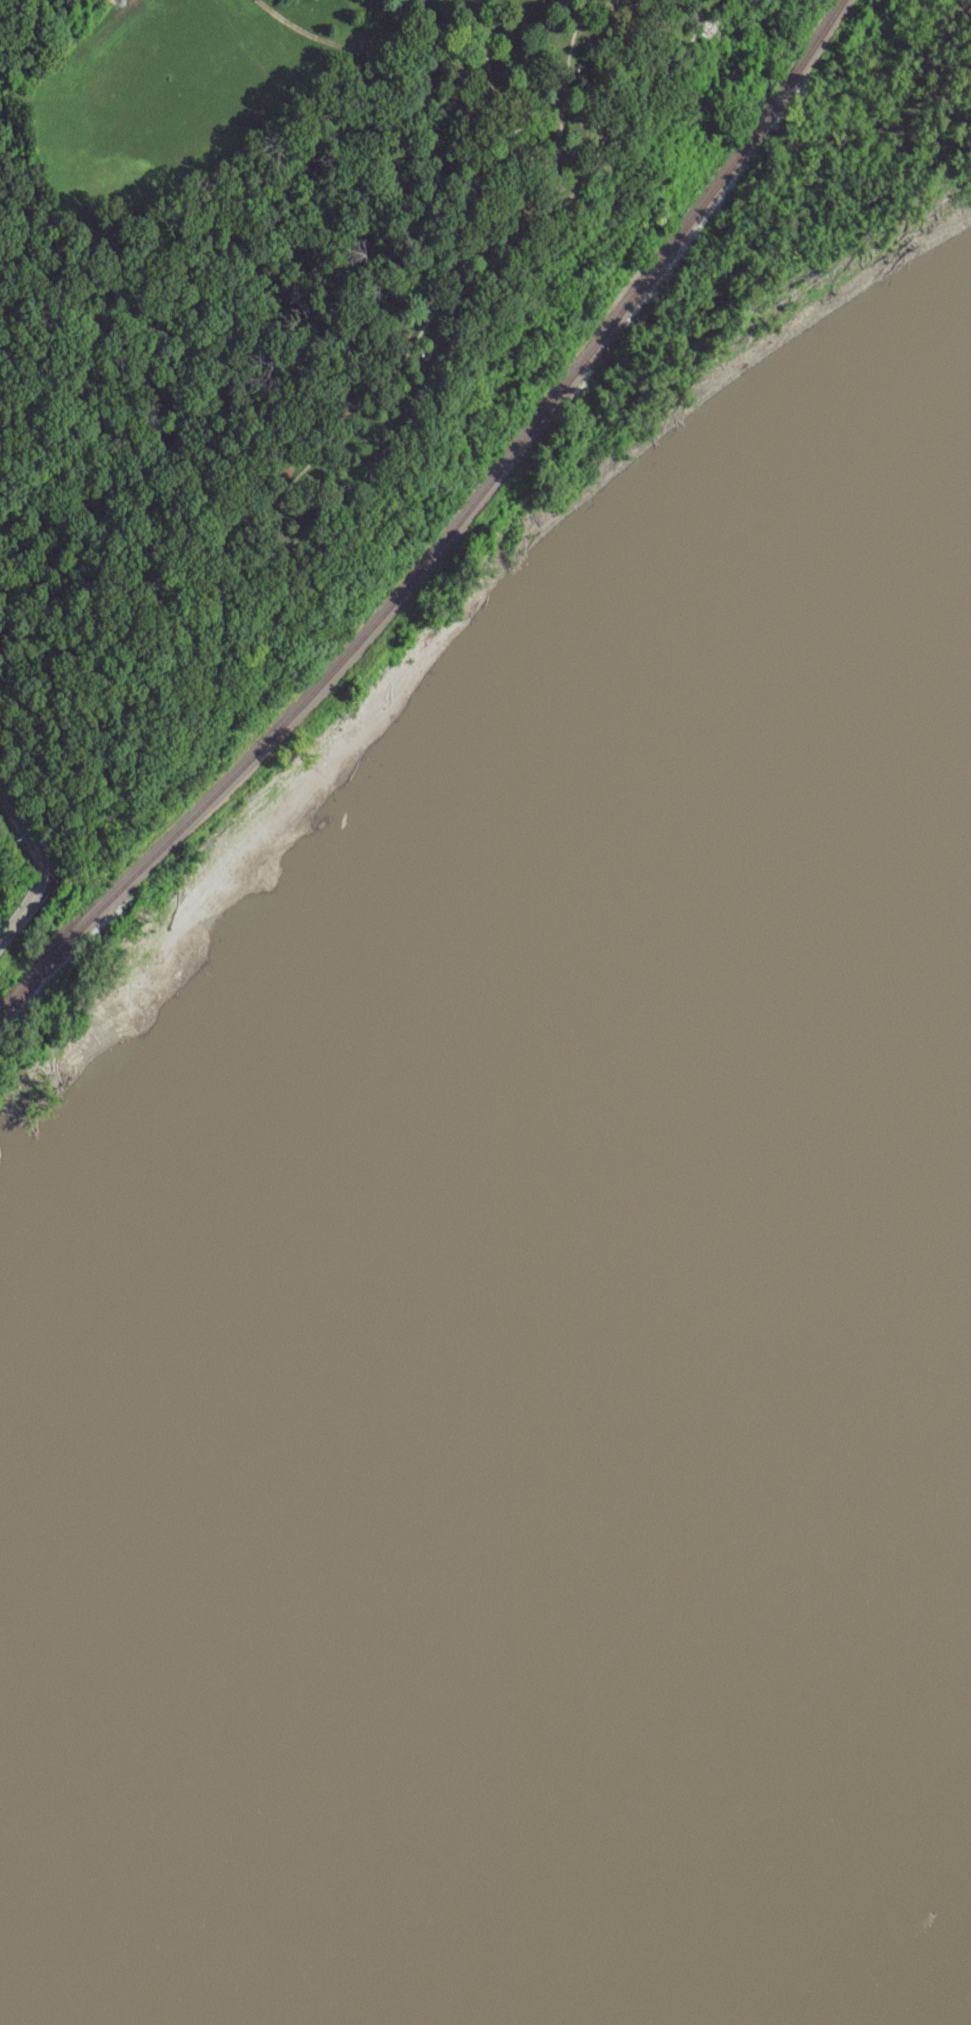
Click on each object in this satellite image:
park: (784, 221)
railway: (450, 531)
road: (40, 865)
river: (843, 1905)

